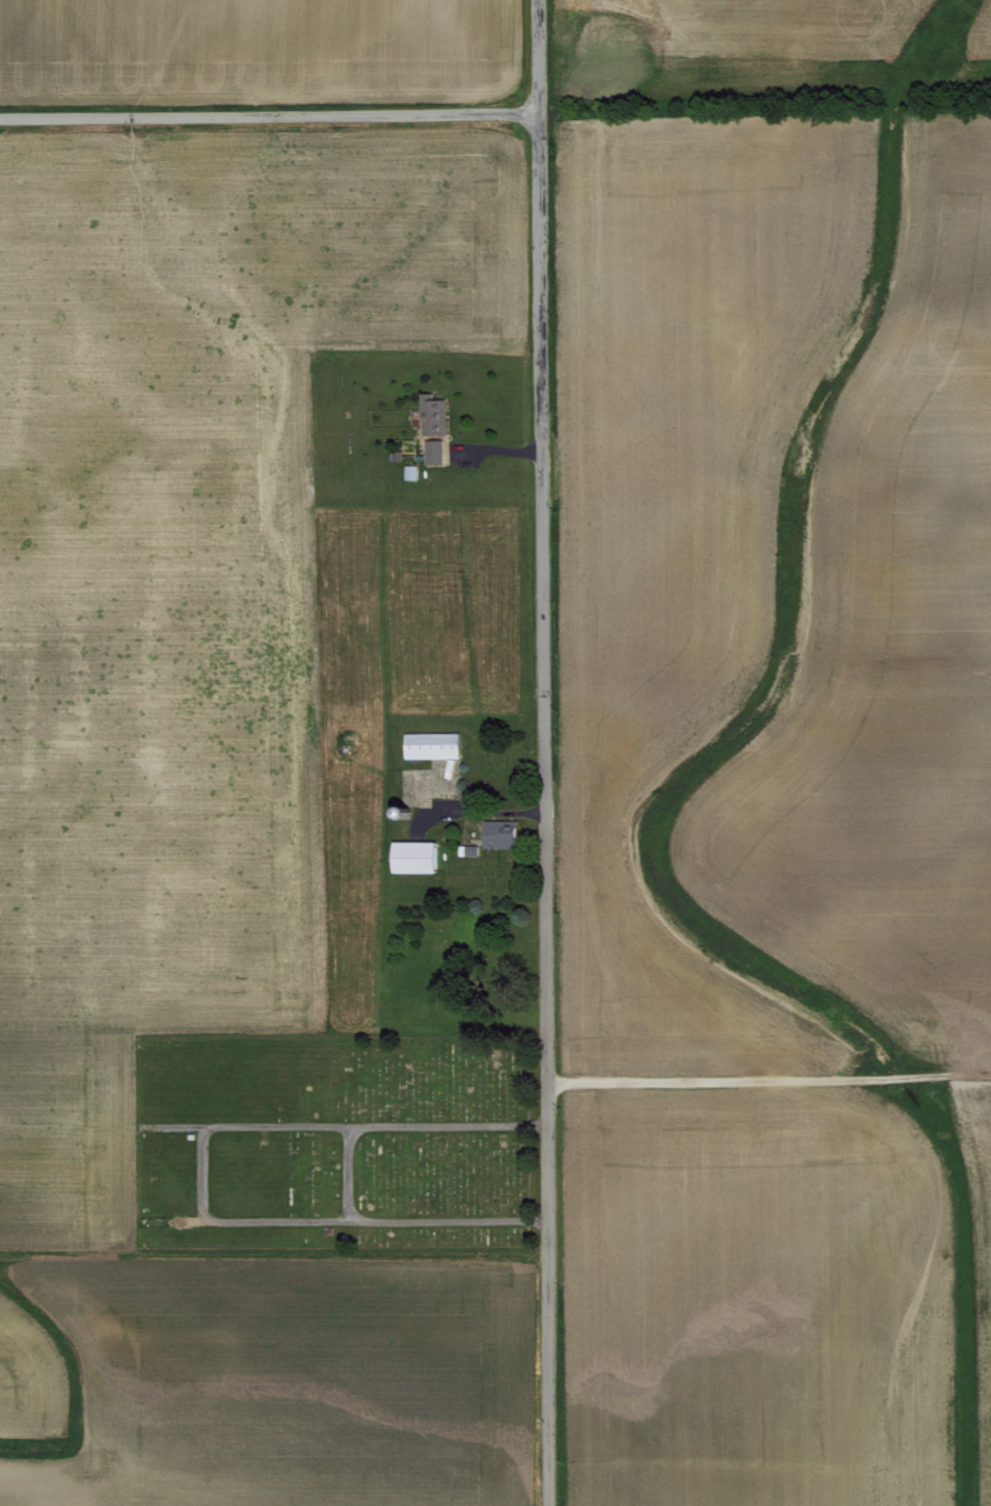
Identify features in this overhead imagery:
road: (266, 116)
building: (432, 415)
building: (434, 451)
building: (410, 471)
building: (431, 743)
road: (542, 752)
road: (501, 812)
building: (499, 832)
building: (413, 855)
road: (767, 1079)

